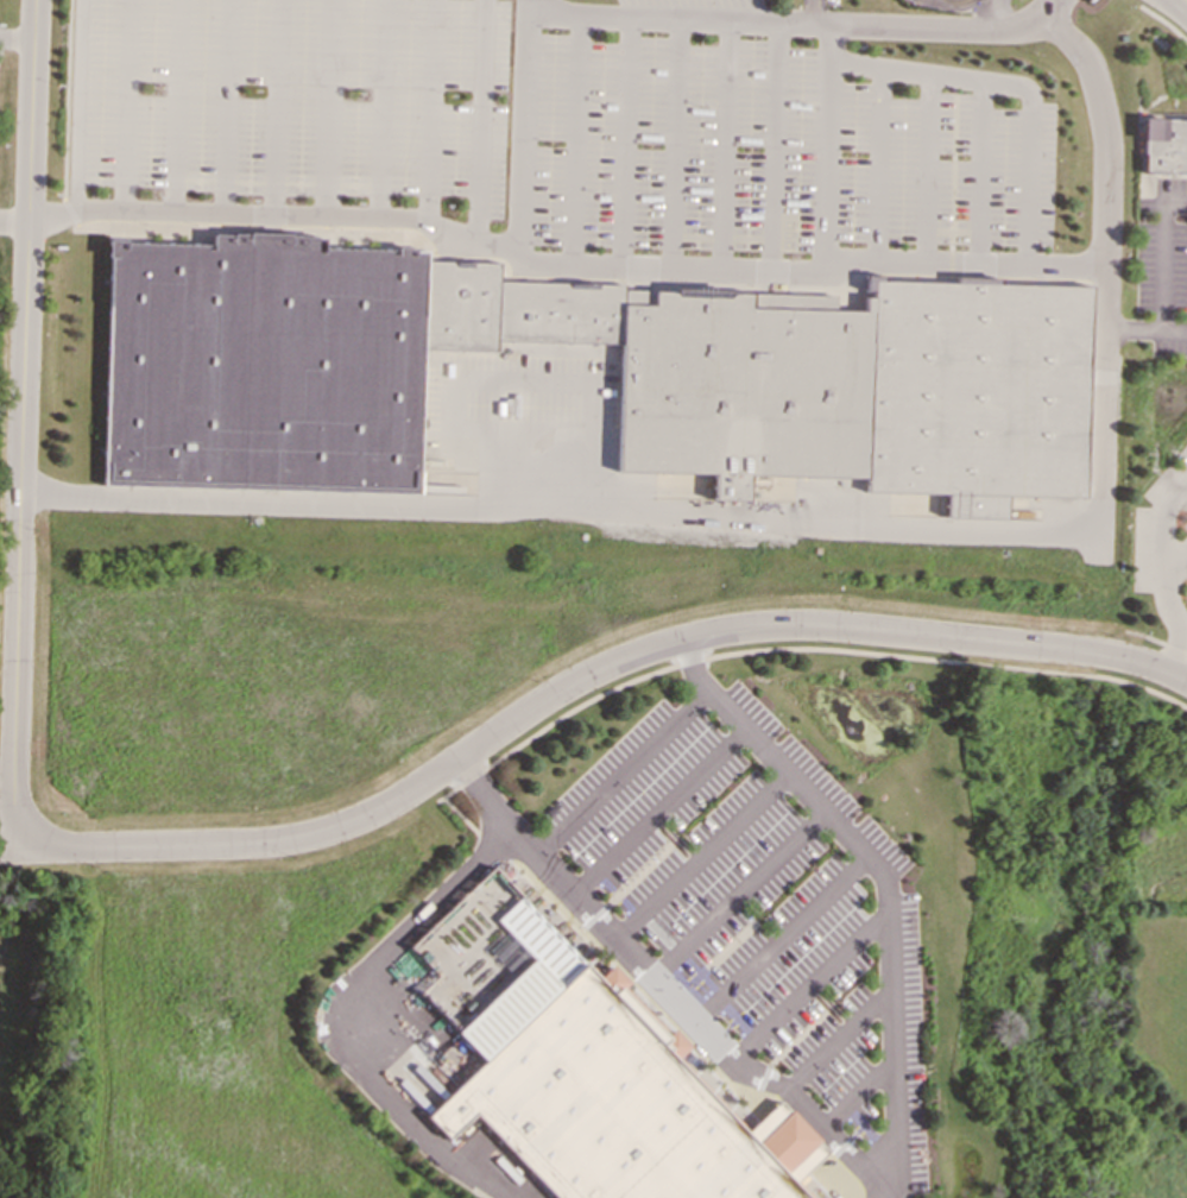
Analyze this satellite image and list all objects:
road: (1176, 2)
road: (1177, 7)
road: (813, 11)
road: (992, 13)
road: (791, 20)
road: (18, 36)
road: (1010, 86)
road: (65, 100)
road: (77, 105)
road: (126, 105)
road: (176, 105)
road: (228, 106)
road: (277, 107)
road: (326, 107)
road: (381, 108)
road: (431, 113)
road: (480, 121)
parking lot: (556, 125)
road: (523, 134)
road: (576, 139)
road: (627, 140)
road: (674, 141)
road: (724, 143)
road: (823, 143)
road: (775, 144)
building: (1164, 145)
road: (877, 162)
road: (927, 166)
road: (978, 171)
road: (1105, 203)
road: (70, 212)
road: (14, 216)
road: (273, 222)
road: (1158, 252)
road: (563, 265)
parking lot: (1162, 266)
road: (977, 270)
road: (640, 271)
road: (583, 278)
road: (772, 279)
building: (461, 304)
building: (560, 311)
building: (266, 366)
building: (744, 383)
building: (977, 389)
road: (23, 422)
road: (661, 510)
road: (1172, 554)
road: (1158, 574)
road: (1154, 638)
road: (796, 648)
road: (1149, 667)
road: (551, 701)
road: (624, 773)
road: (484, 795)
road: (658, 808)
road: (460, 814)
road: (488, 846)
road: (701, 853)
road: (638, 872)
road: (888, 883)
road: (738, 891)
parking lot: (762, 903)
road: (592, 916)
road: (779, 934)
road: (810, 983)
road: (329, 1017)
road: (696, 1022)
road: (838, 1033)
road: (797, 1038)
road: (756, 1085)
road: (858, 1087)
building: (606, 1109)

